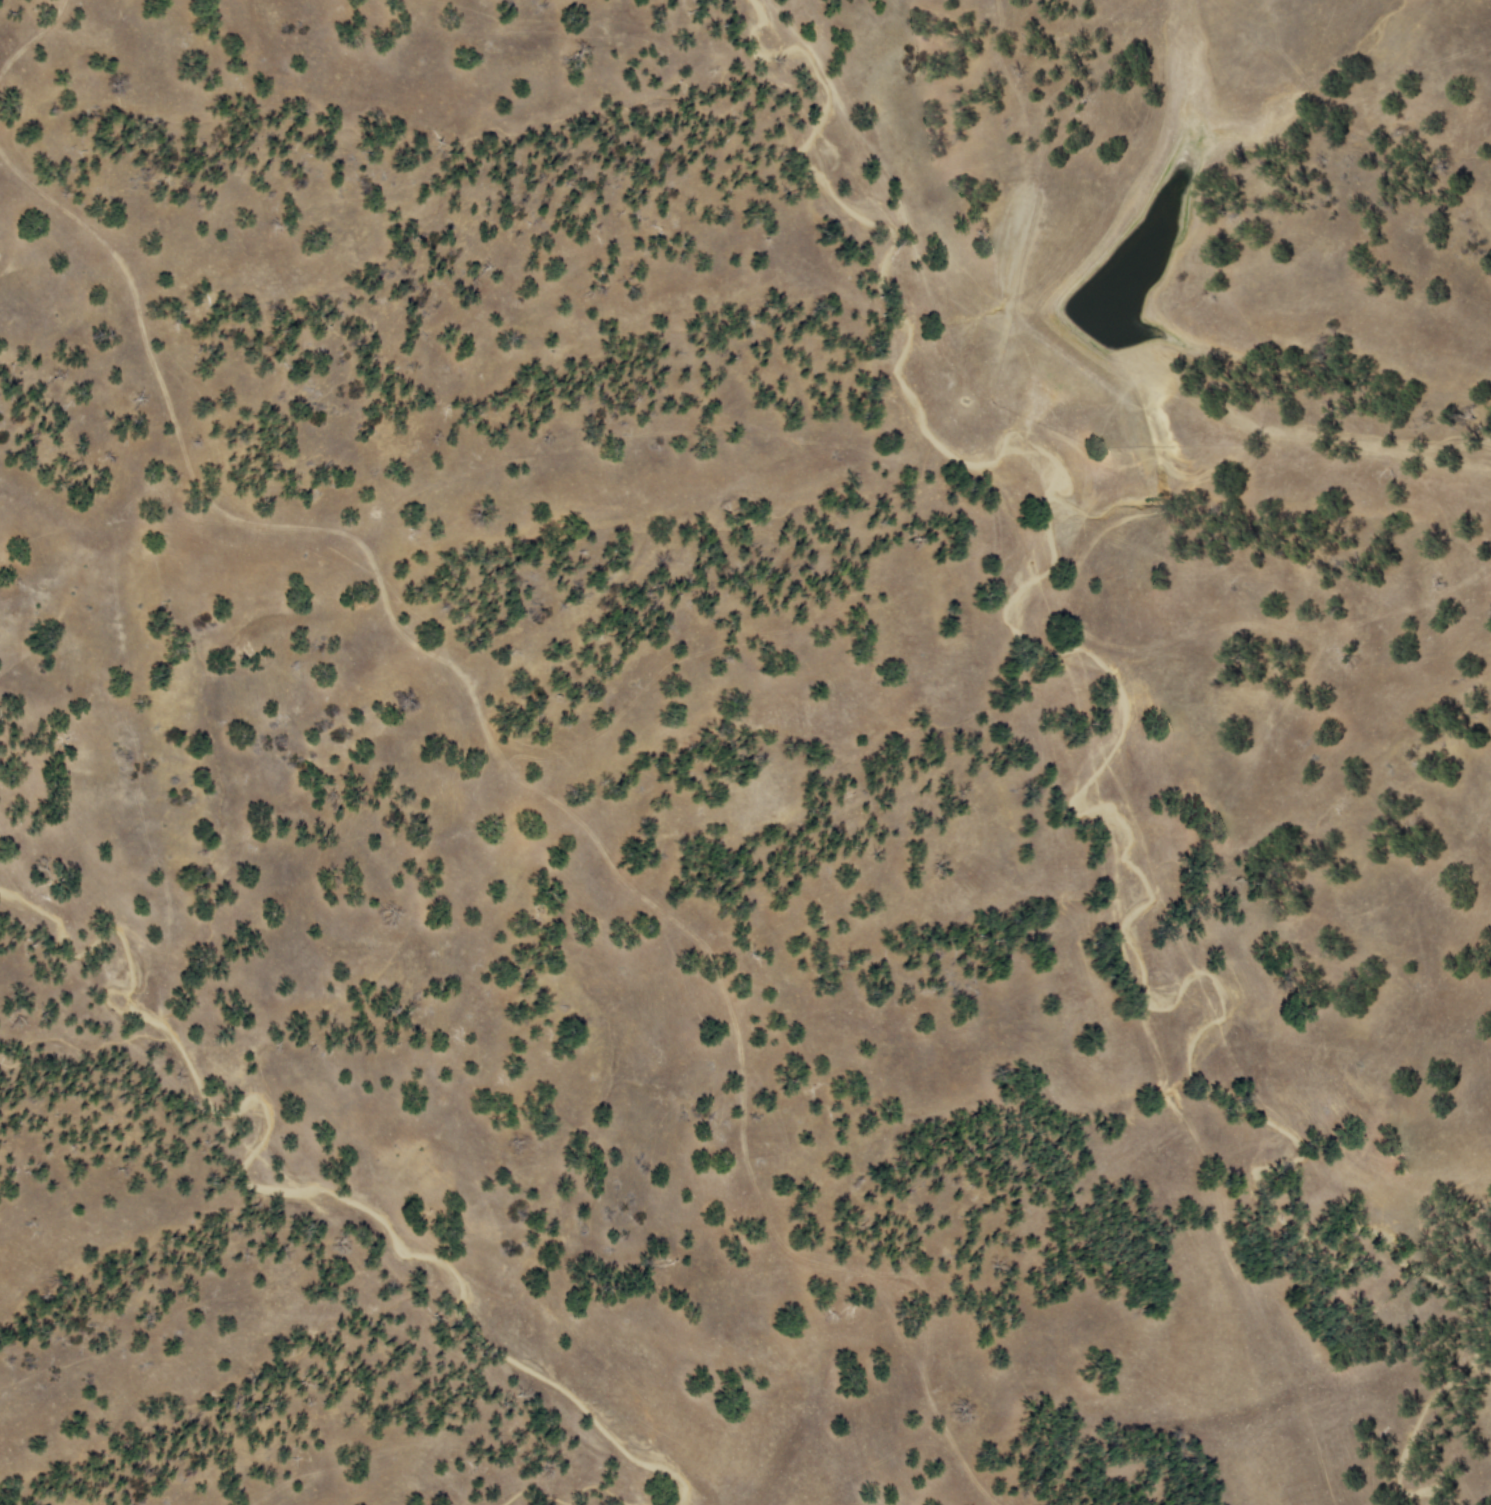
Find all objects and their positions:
dam: (1077, 346)
road: (1279, 618)

